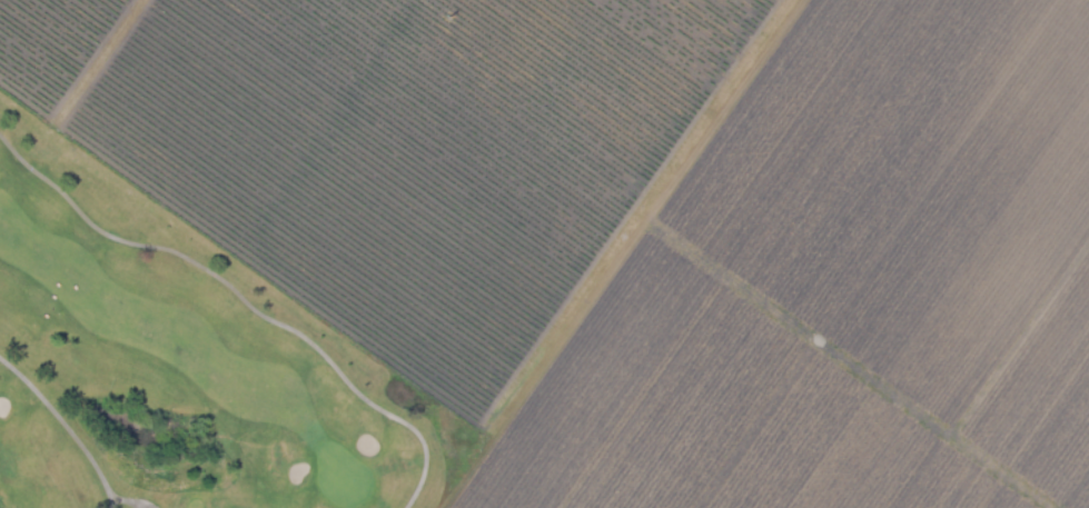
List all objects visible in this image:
park: (178, 368)

